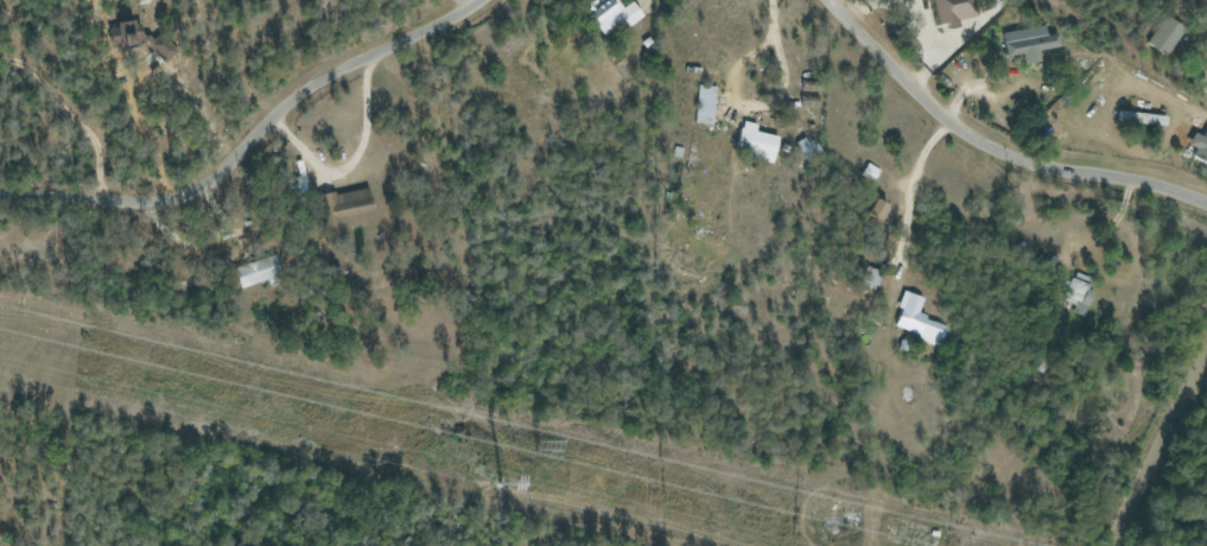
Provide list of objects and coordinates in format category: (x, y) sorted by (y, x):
road: (459, 6)
road: (980, 6)
building: (954, 11)
building: (614, 13)
road: (925, 27)
building: (1165, 36)
building: (138, 39)
building: (1029, 43)
building: (705, 104)
building: (1142, 119)
road: (65, 120)
road: (252, 135)
building: (756, 141)
building: (1200, 146)
building: (807, 147)
road: (990, 151)
road: (350, 159)
building: (869, 172)
road: (914, 191)
building: (349, 210)
building: (879, 210)
building: (258, 271)
building: (1079, 293)
building: (917, 320)
road: (1158, 449)
power tower: (539, 450)
power tower: (485, 482)

